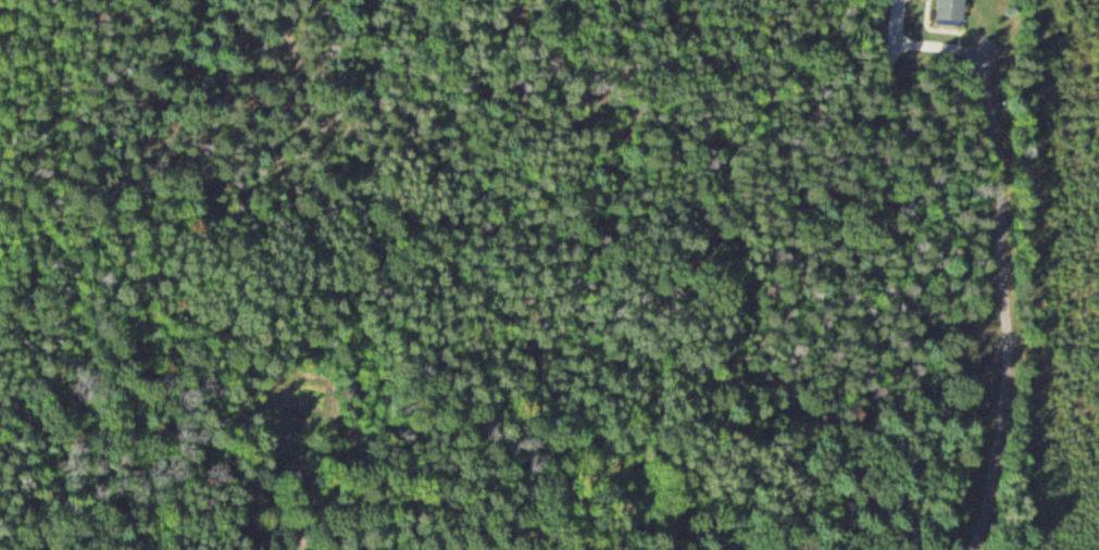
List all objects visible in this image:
building: (952, 12)

